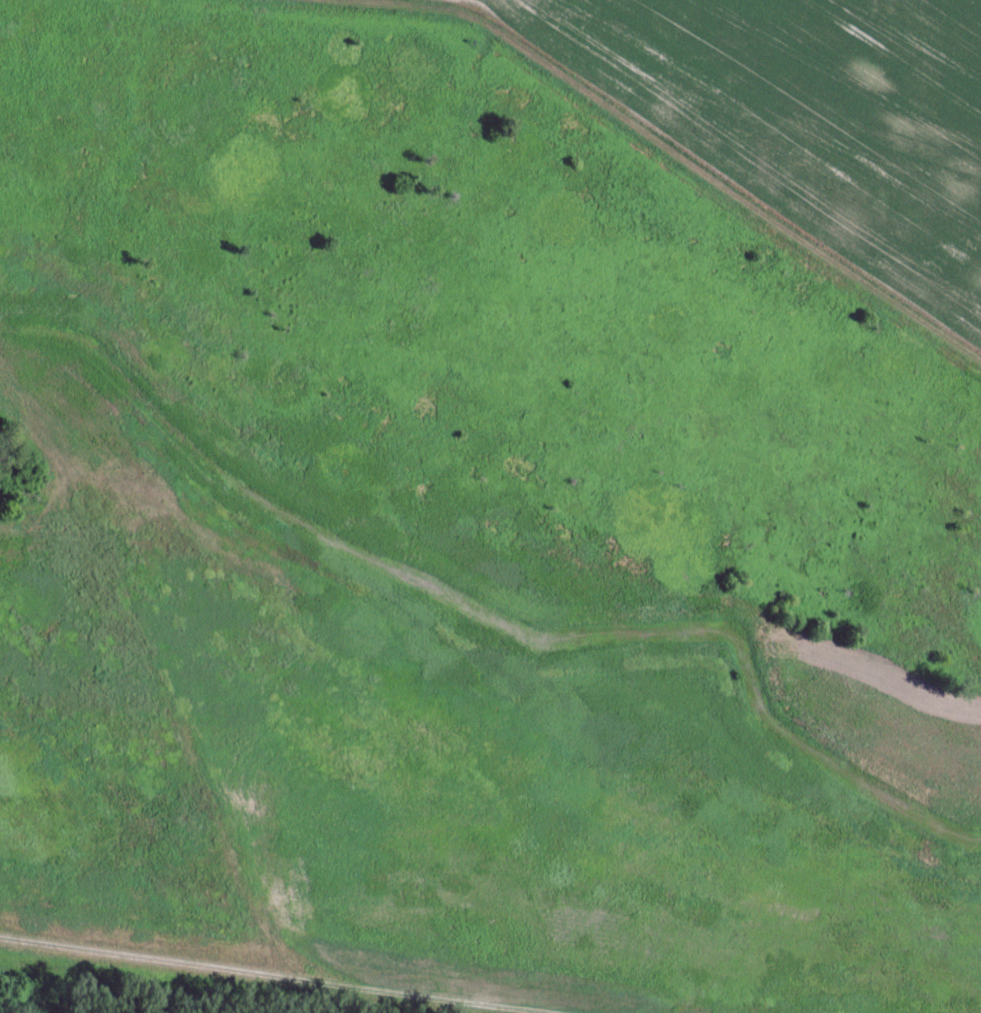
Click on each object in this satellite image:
road: (275, 973)

